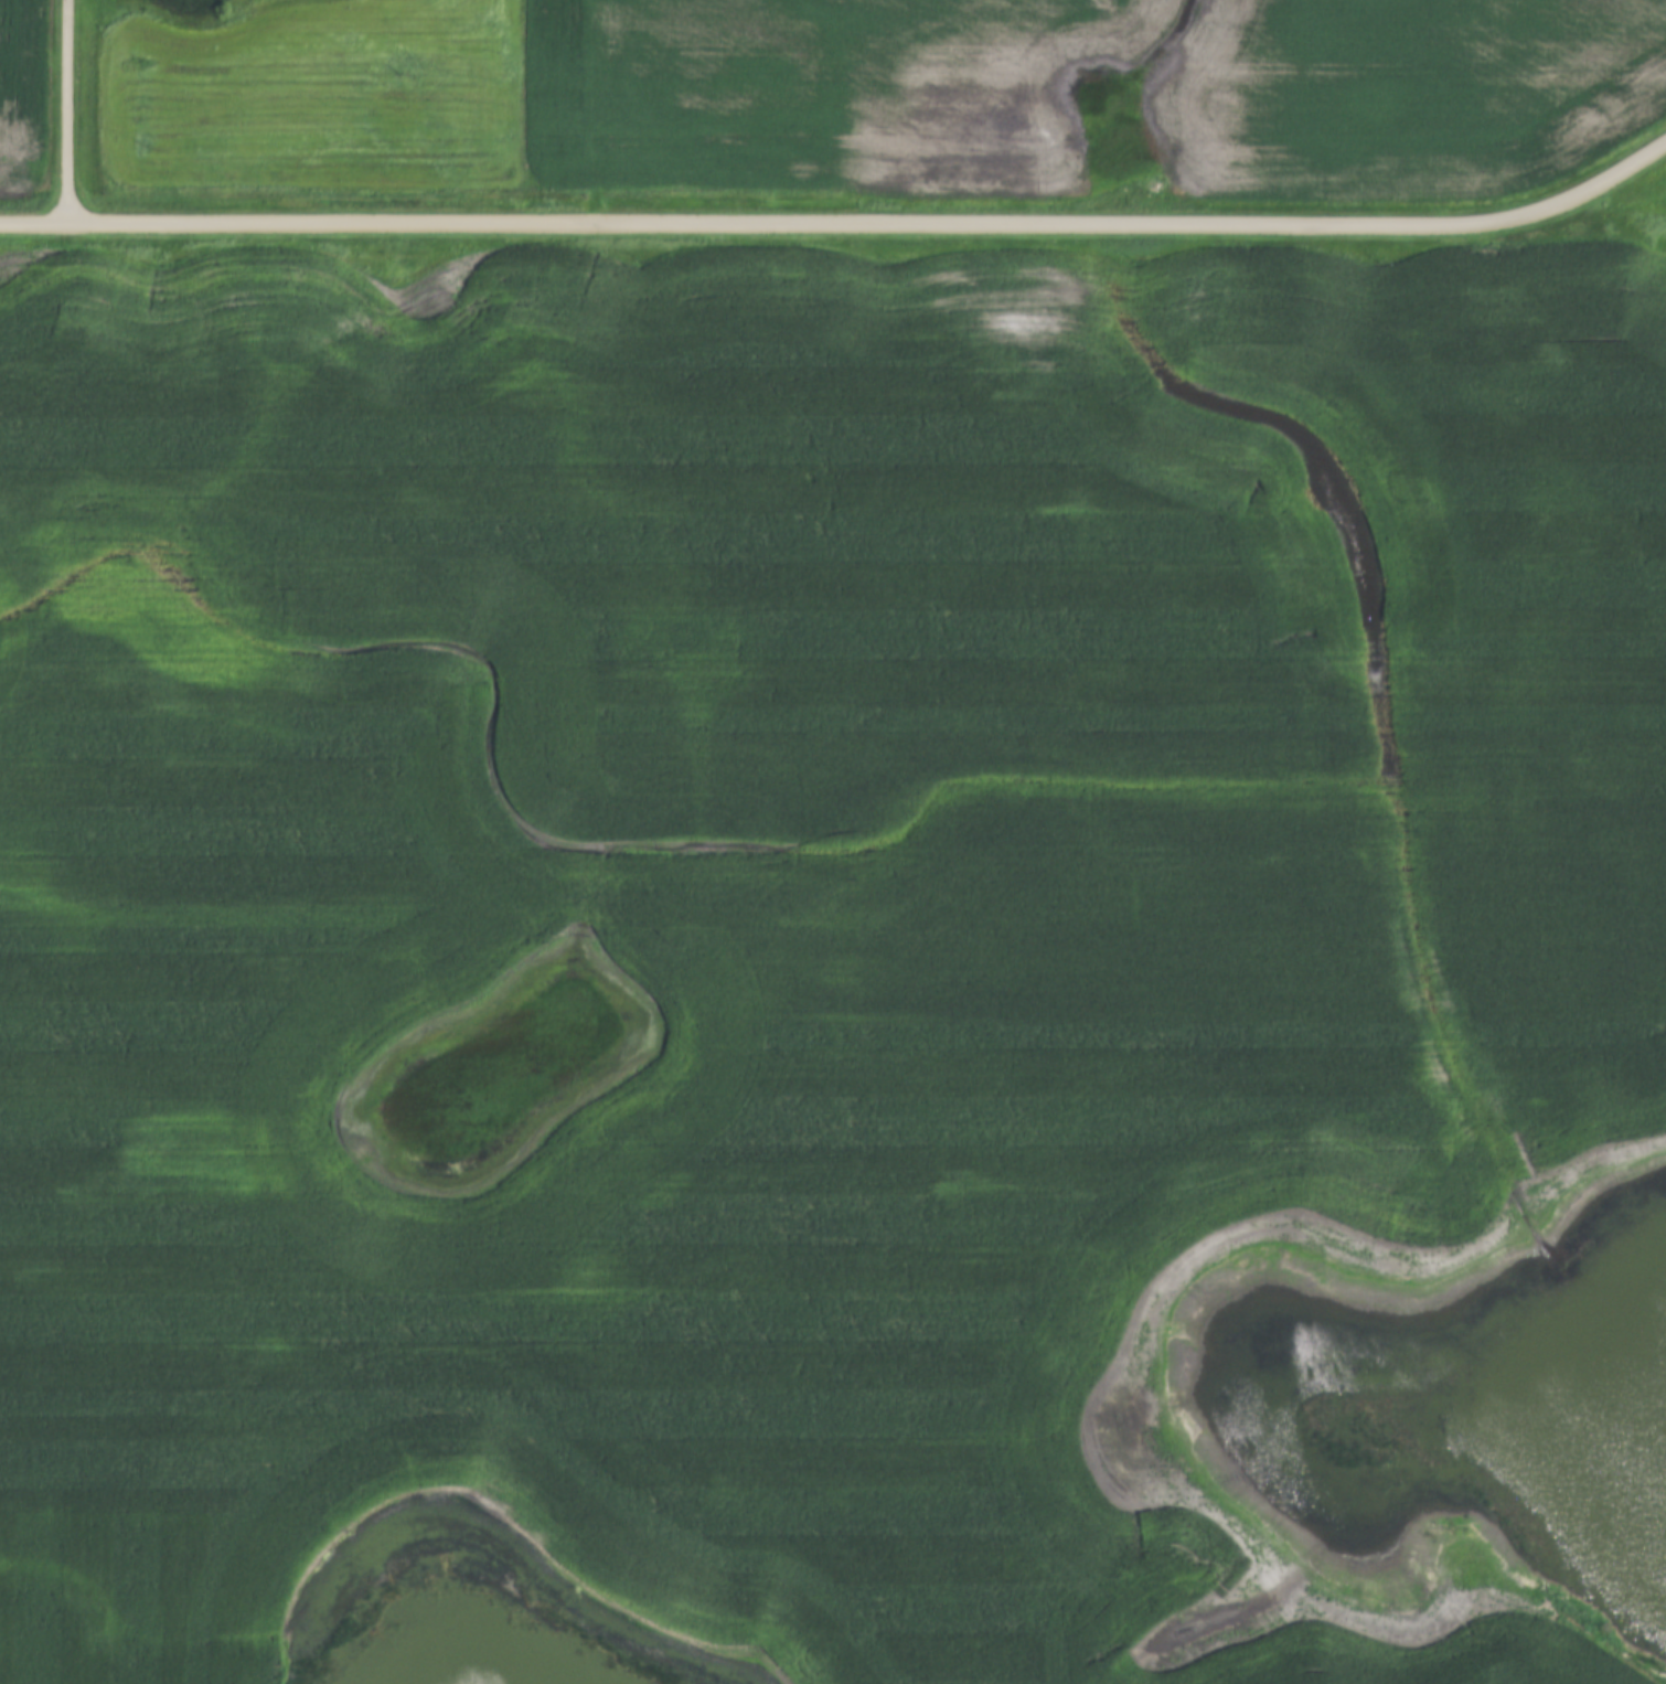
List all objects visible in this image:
road: (74, 114)
road: (842, 228)

